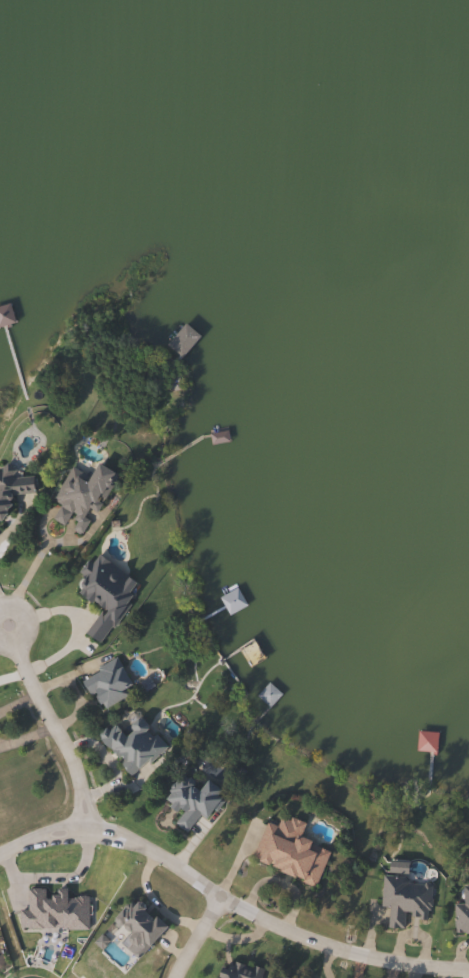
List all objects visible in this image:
building: (180, 341)
building: (10, 484)
building: (77, 496)
road: (5, 534)
road: (23, 588)
building: (100, 595)
road: (6, 618)
road: (6, 636)
road: (11, 641)
building: (103, 683)
road: (54, 731)
building: (131, 745)
building: (189, 800)
building: (286, 850)
road: (226, 897)
building: (401, 899)
building: (459, 917)
building: (136, 924)
road: (193, 935)
building: (236, 970)
building: (278, 977)

